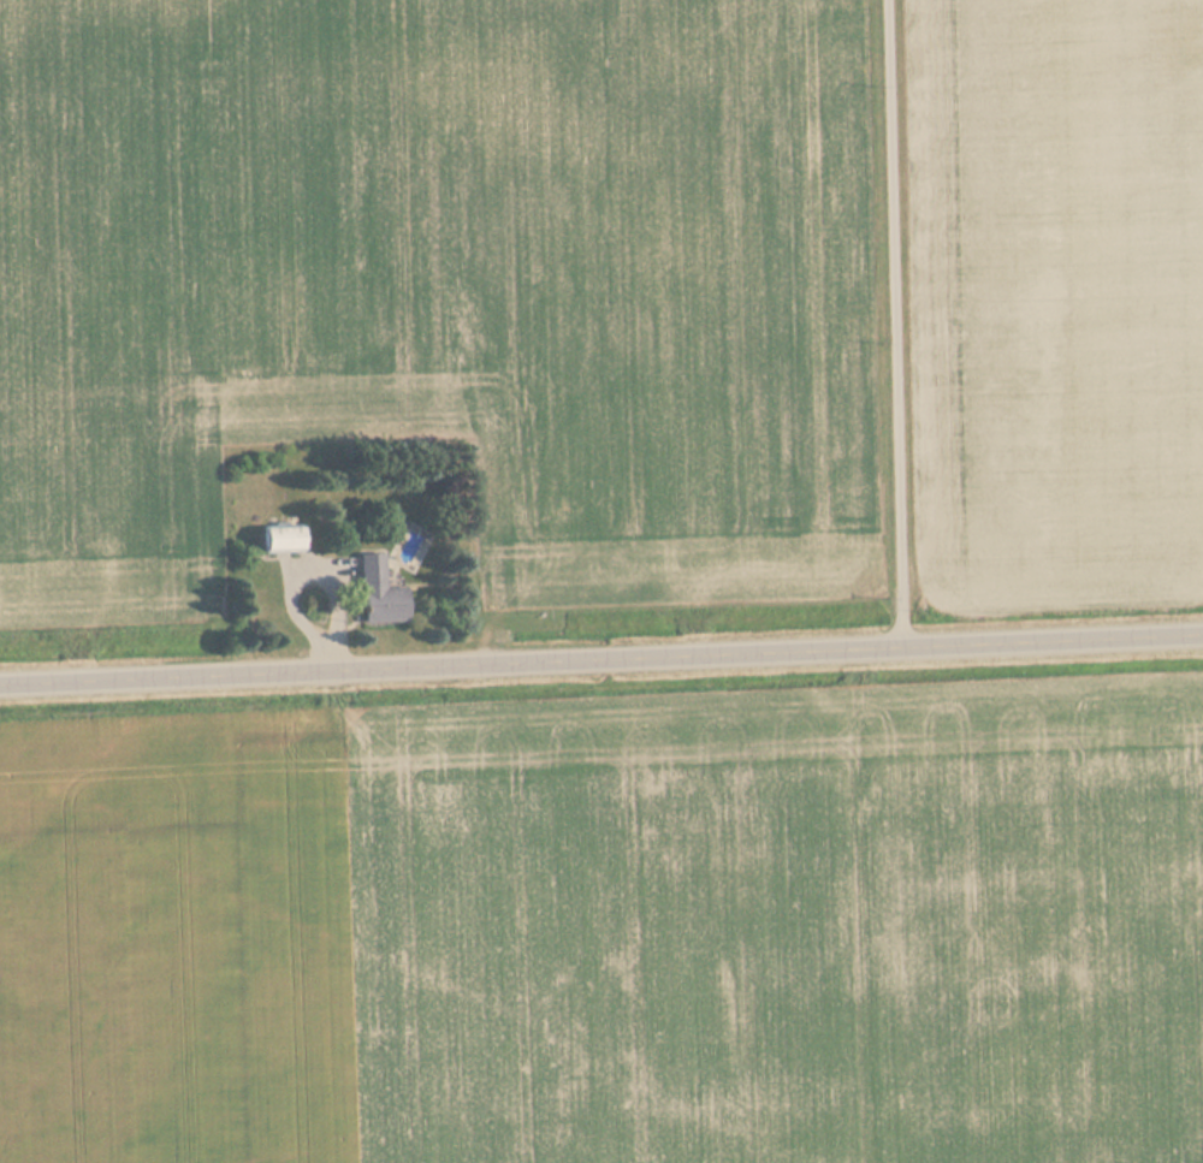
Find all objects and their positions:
building: (283, 540)
building: (381, 593)
road: (601, 657)

